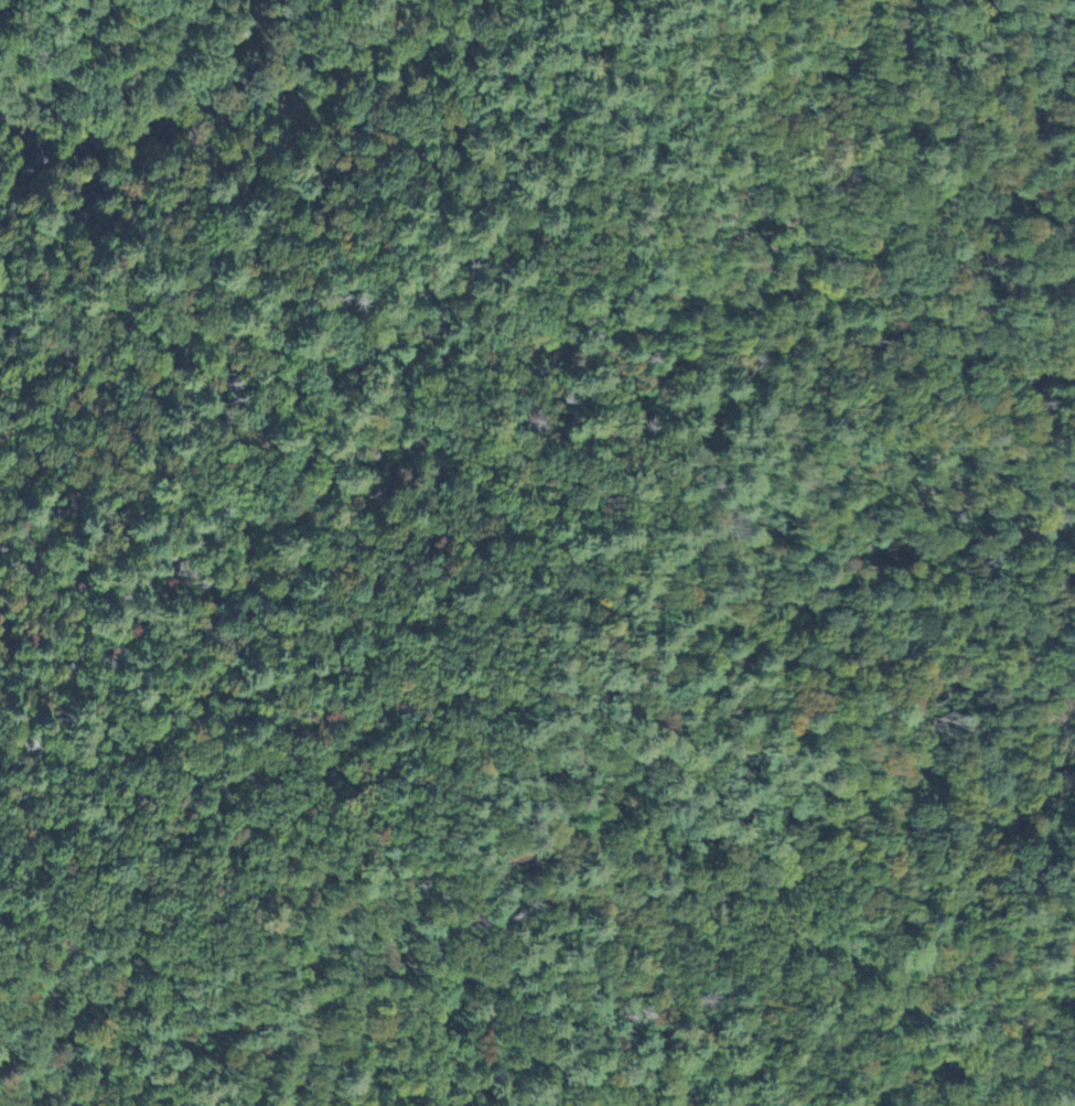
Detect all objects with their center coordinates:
road: (440, 462)
road: (956, 731)
road: (87, 1031)
road: (429, 1103)

